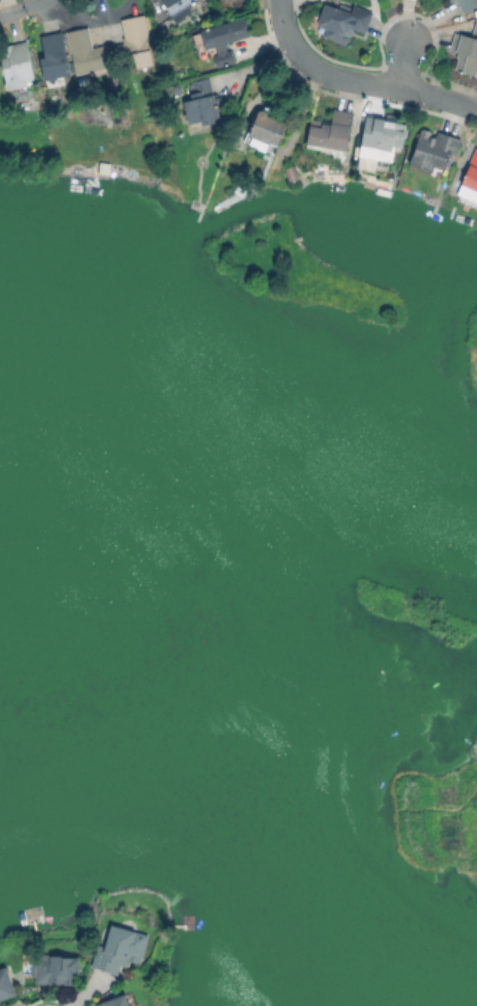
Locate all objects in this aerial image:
building: (449, 0)
building: (450, 0)
building: (466, 5)
building: (176, 6)
road: (22, 8)
building: (342, 23)
road: (282, 24)
building: (224, 39)
building: (133, 45)
building: (86, 52)
building: (465, 52)
building: (52, 57)
road: (405, 62)
building: (16, 66)
road: (380, 85)
building: (200, 105)
building: (266, 130)
building: (329, 131)
building: (380, 138)
building: (433, 150)
building: (471, 172)
park: (430, 811)
building: (119, 947)
building: (53, 966)
building: (6, 981)
building: (114, 1000)

